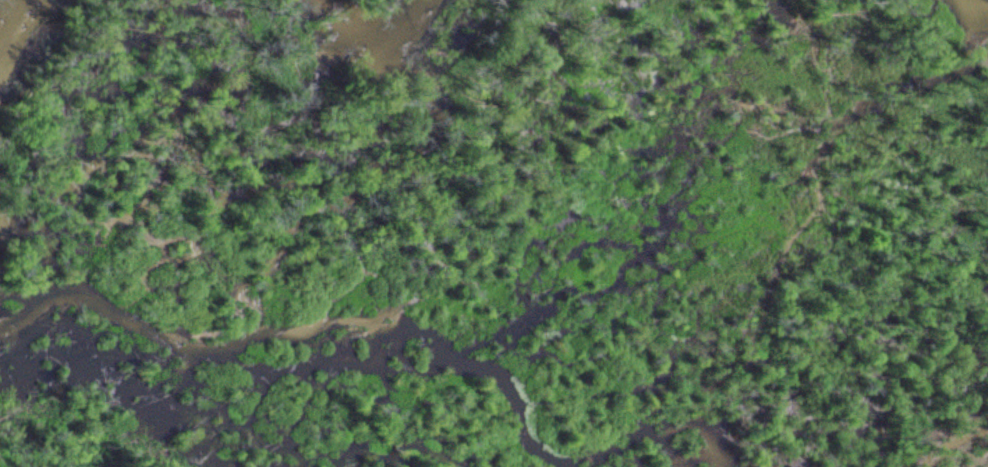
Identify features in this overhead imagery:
river: (7, 10)
river: (967, 17)
river: (364, 37)

